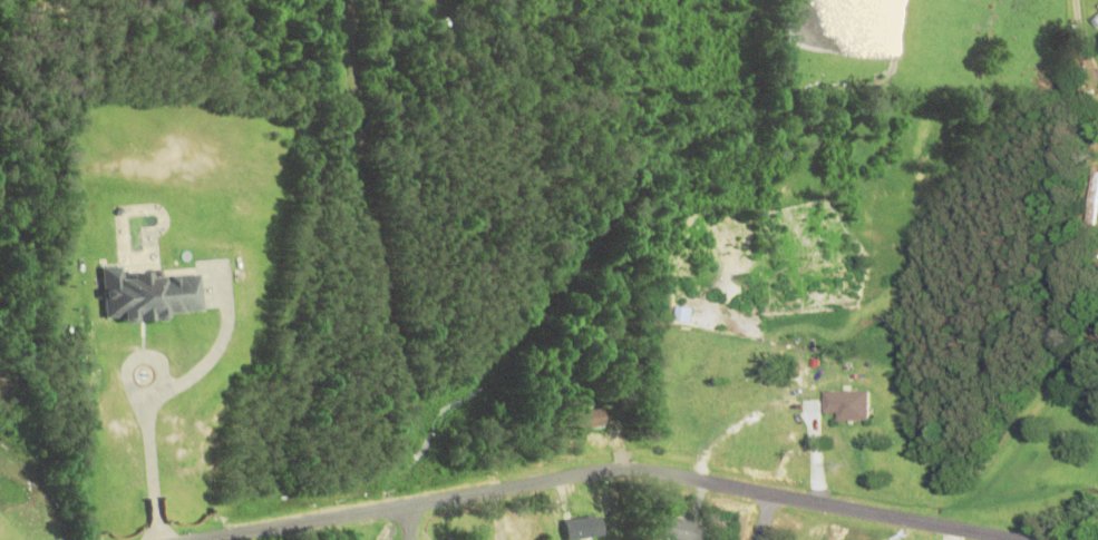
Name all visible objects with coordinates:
road: (1077, 37)
building: (1091, 205)
building: (148, 296)
building: (590, 421)
road: (610, 473)
road: (762, 519)
road: (412, 523)
building: (584, 530)
building: (677, 531)

